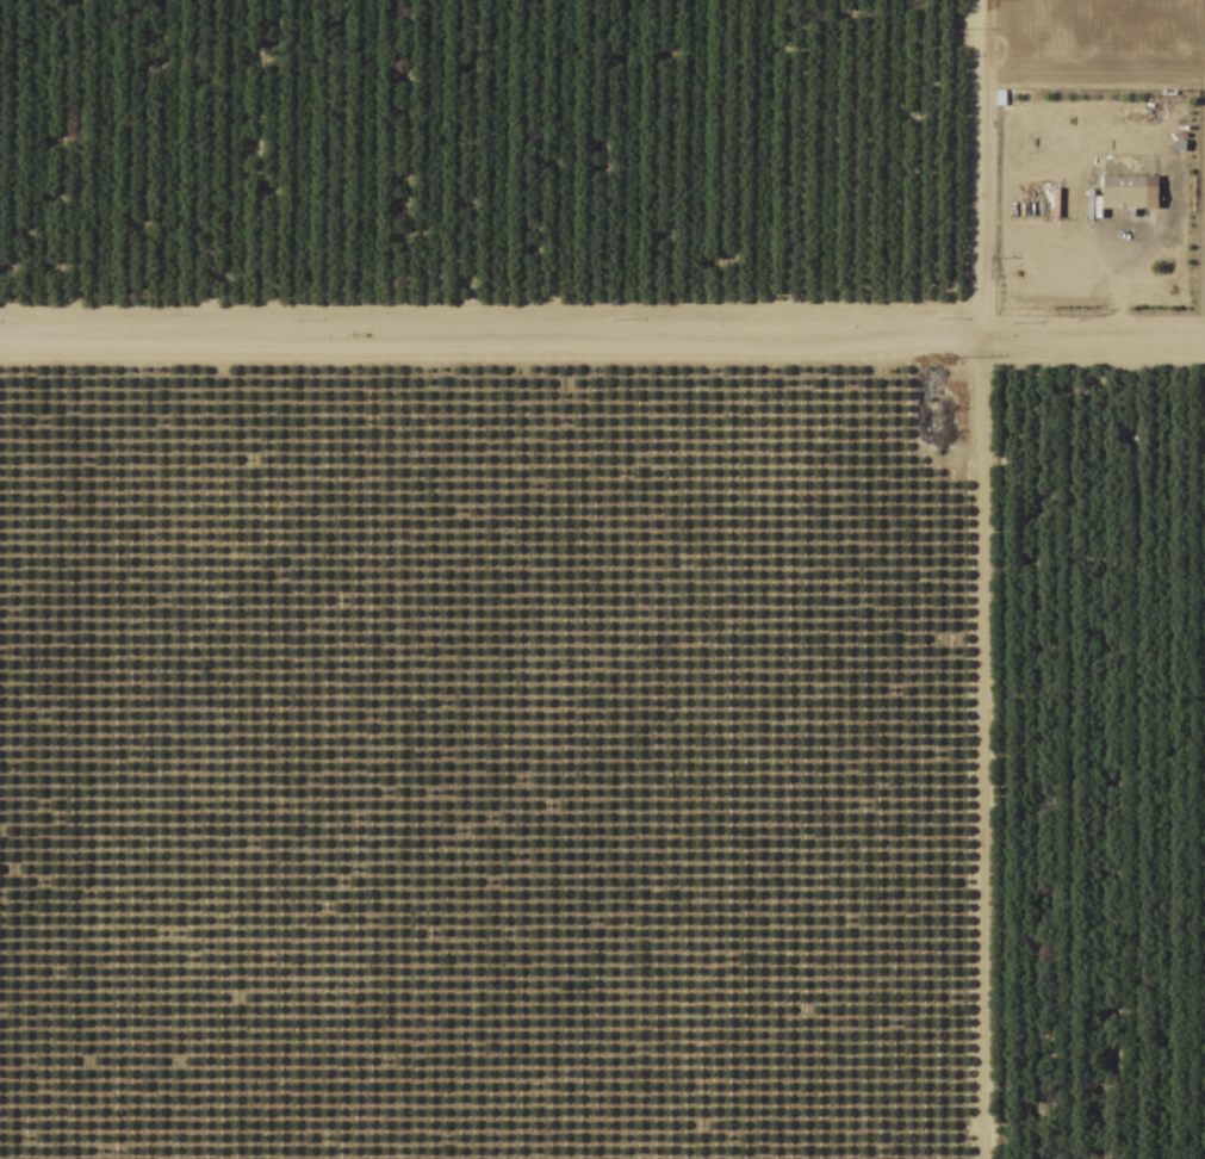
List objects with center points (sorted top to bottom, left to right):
road: (602, 337)
road: (973, 578)

